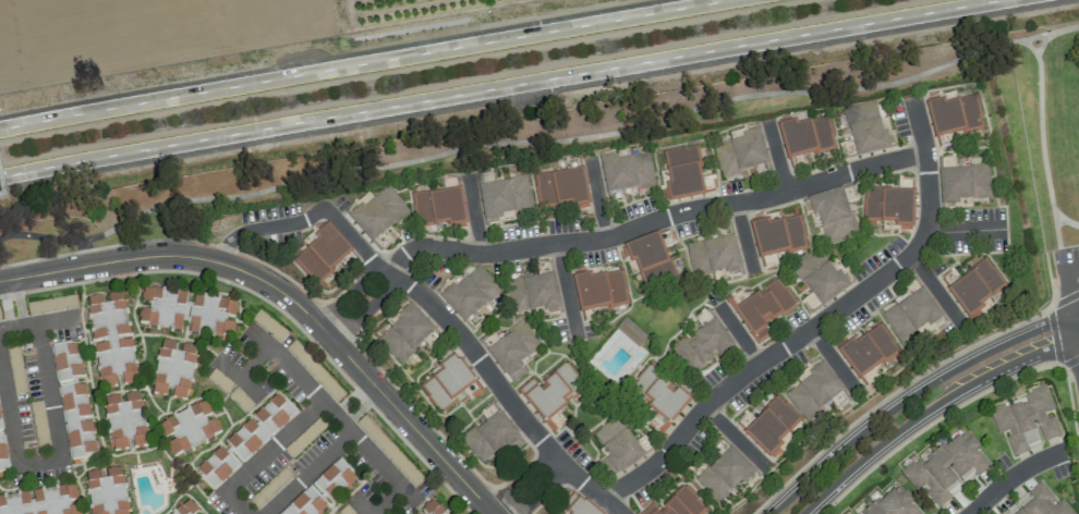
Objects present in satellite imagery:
road: (1048, 33)
road: (1042, 44)
road: (363, 63)
road: (500, 87)
building: (954, 113)
park: (575, 124)
road: (635, 127)
building: (804, 138)
building: (741, 152)
road: (776, 157)
building: (763, 170)
building: (627, 171)
building: (686, 173)
building: (962, 184)
building: (560, 188)
road: (1, 189)
building: (504, 197)
road: (597, 198)
building: (892, 205)
building: (439, 207)
building: (833, 215)
building: (379, 216)
road: (474, 217)
road: (655, 220)
road: (1065, 220)
road: (263, 228)
road: (962, 231)
road: (743, 236)
building: (776, 237)
road: (173, 240)
road: (354, 241)
building: (322, 253)
building: (714, 256)
parking lot: (1066, 258)
building: (650, 261)
building: (820, 277)
road: (9, 285)
building: (973, 287)
road: (566, 289)
road: (934, 290)
road: (352, 291)
building: (598, 291)
building: (534, 292)
road: (289, 296)
building: (470, 296)
road: (17, 306)
building: (762, 307)
road: (7, 308)
road: (368, 308)
building: (186, 313)
building: (911, 314)
building: (0, 319)
road: (1066, 319)
road: (36, 321)
road: (819, 321)
road: (1053, 329)
building: (405, 333)
road: (741, 336)
building: (111, 340)
road: (1068, 342)
building: (702, 346)
building: (865, 350)
building: (513, 351)
road: (832, 358)
building: (15, 368)
building: (173, 369)
building: (868, 378)
building: (449, 383)
road: (900, 388)
road: (369, 389)
road: (504, 391)
building: (814, 392)
building: (553, 395)
building: (658, 396)
road: (348, 397)
building: (73, 401)
road: (900, 403)
road: (357, 408)
road: (920, 415)
building: (1027, 420)
building: (125, 421)
road: (345, 421)
building: (0, 427)
building: (769, 427)
building: (189, 428)
road: (731, 433)
building: (492, 437)
building: (245, 441)
building: (618, 446)
building: (2, 455)
road: (52, 455)
building: (946, 468)
building: (725, 475)
road: (1010, 478)
road: (530, 487)
building: (322, 490)
building: (106, 491)
building: (41, 501)
road: (241, 503)
building: (893, 503)
building: (1042, 503)
building: (677, 504)
building: (579, 505)
building: (186, 509)
building: (431, 509)
building: (852, 513)
building: (1001, 513)

